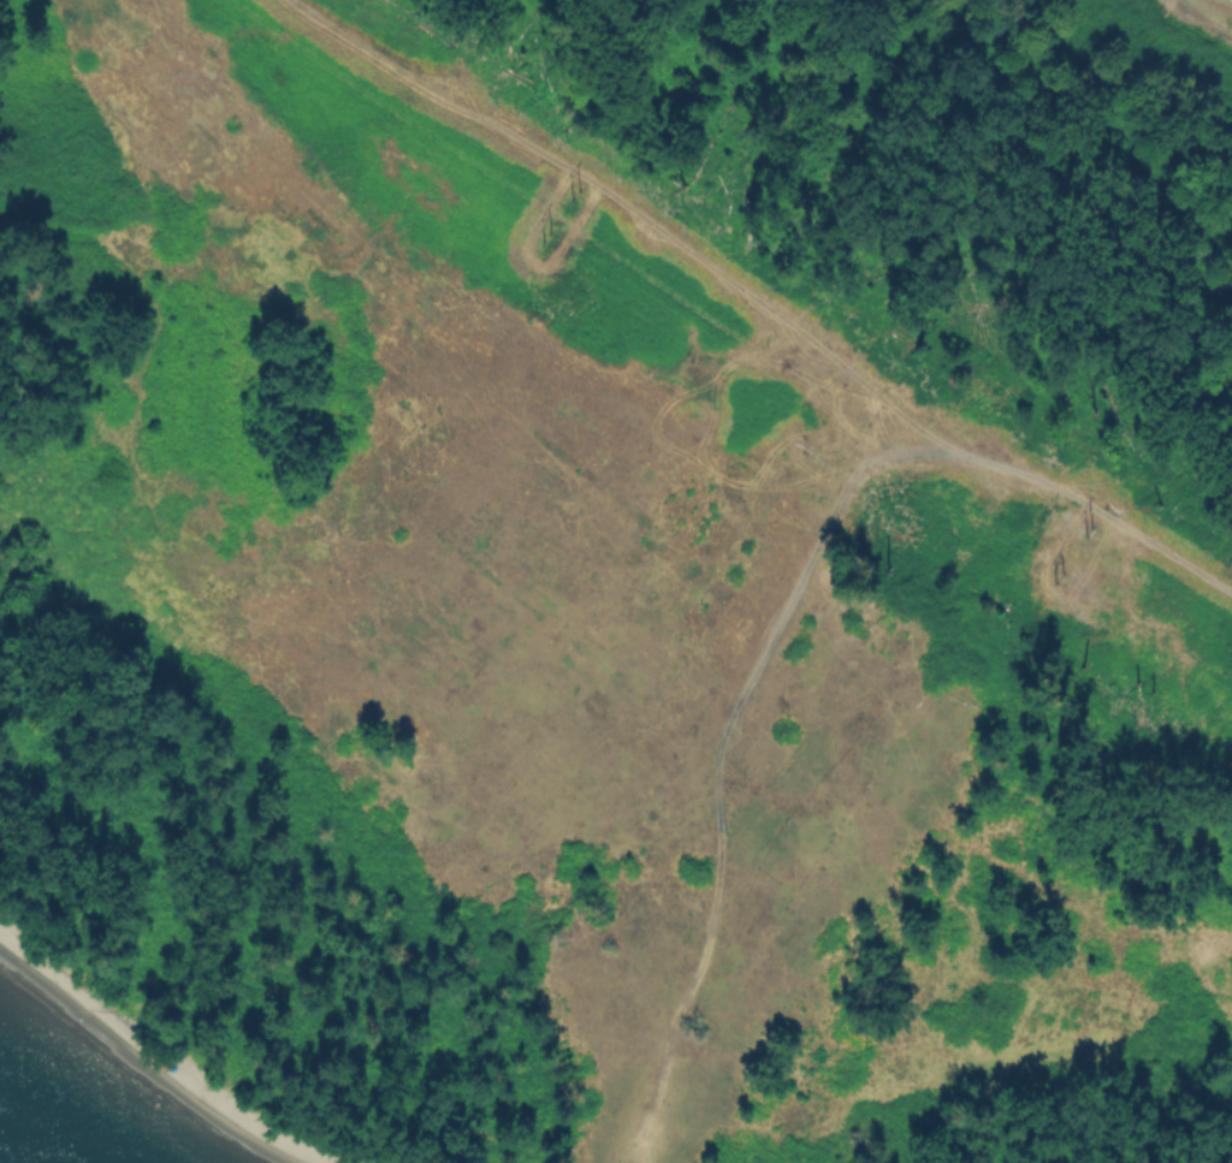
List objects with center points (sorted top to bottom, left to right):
road: (653, 226)
road: (1121, 523)
road: (722, 728)

